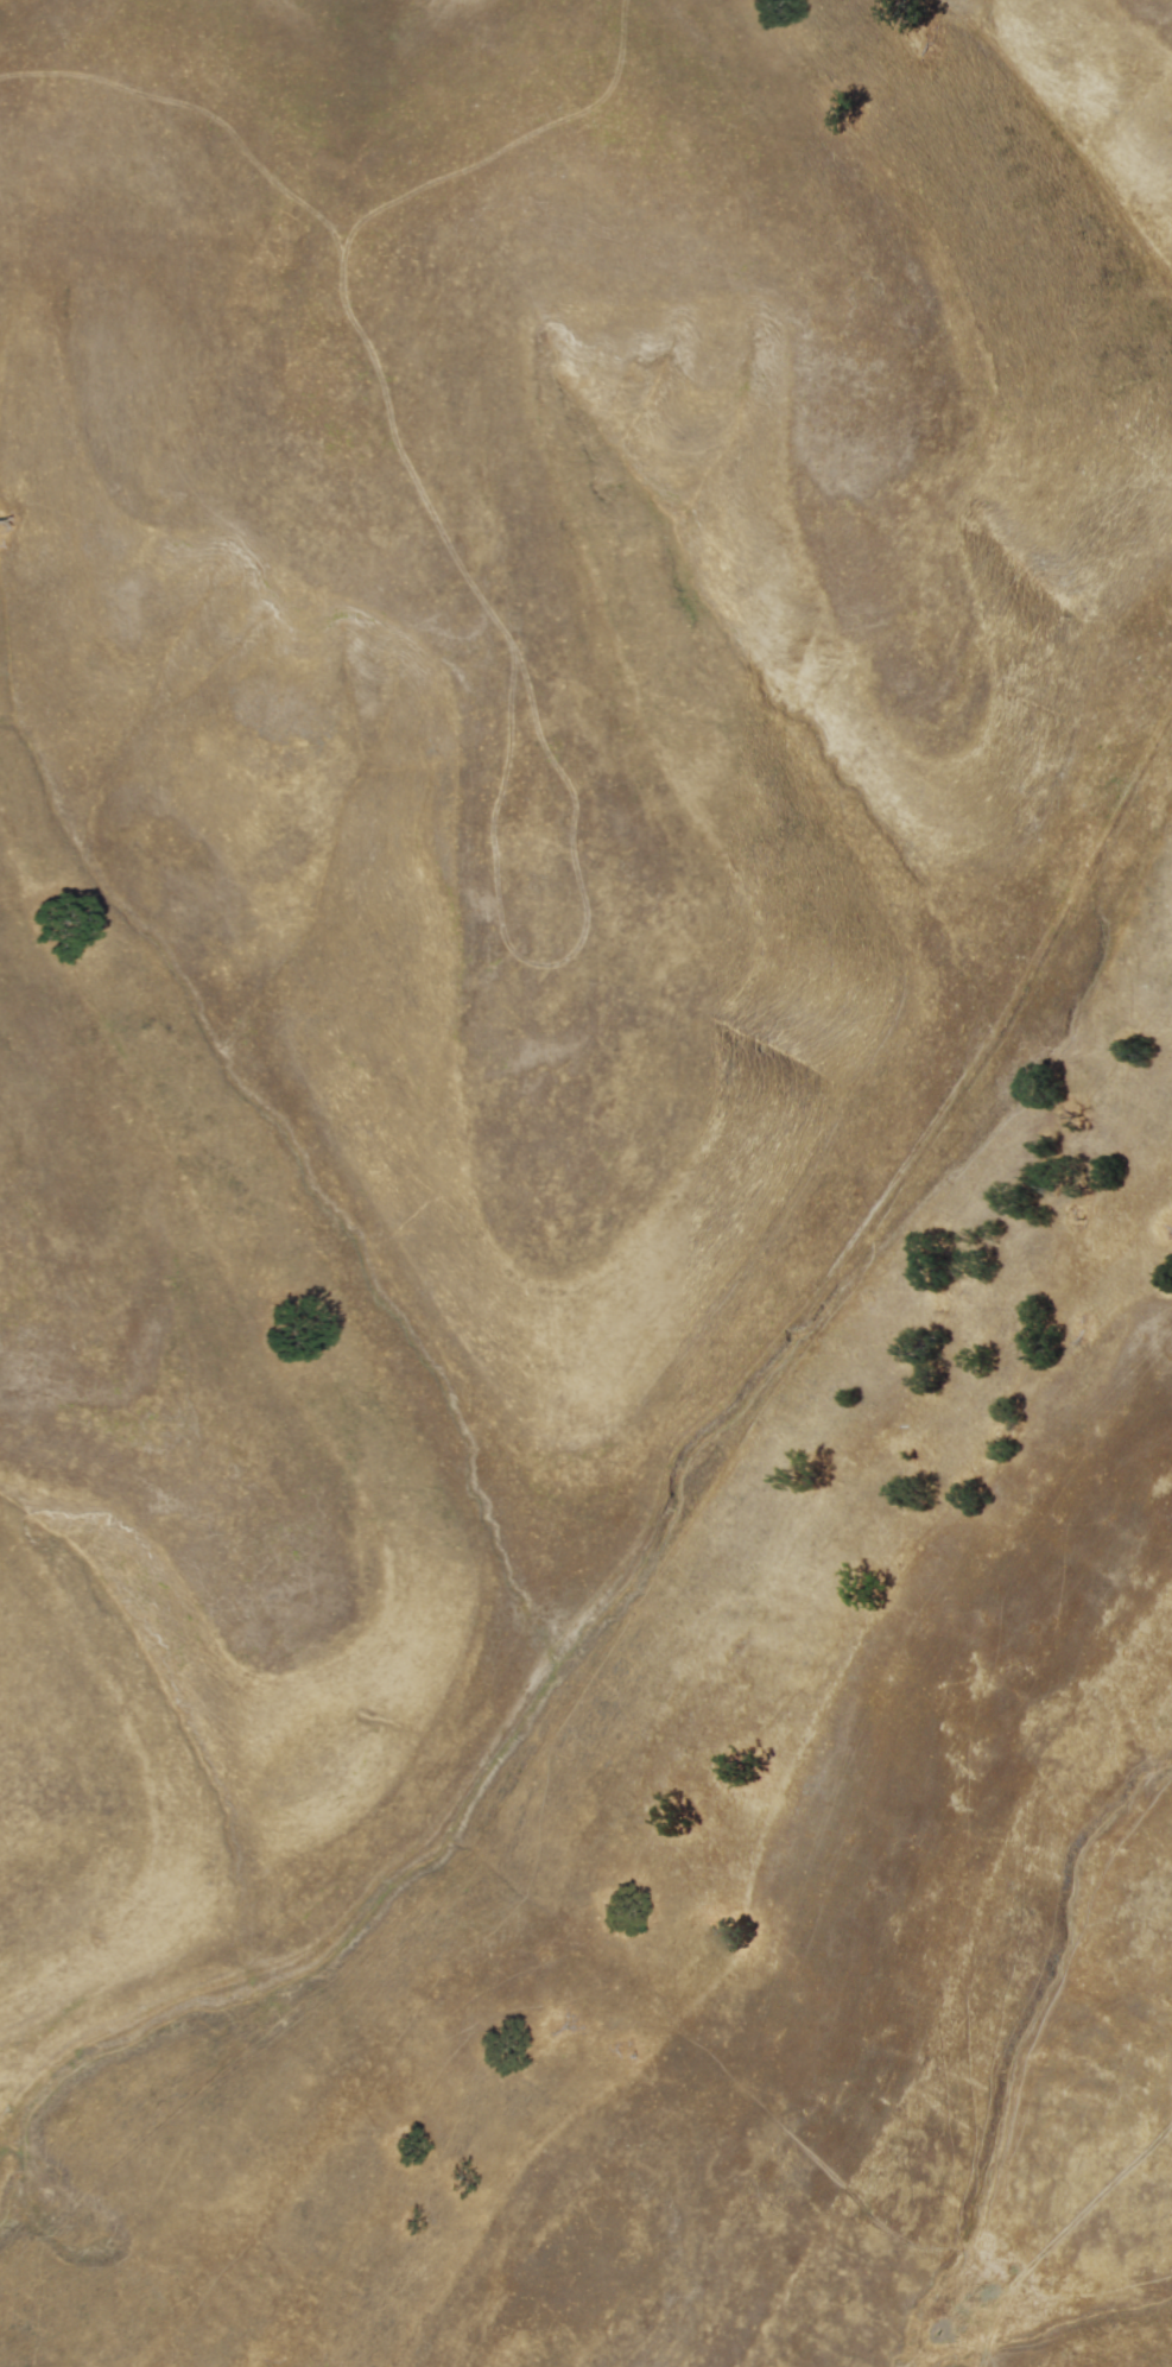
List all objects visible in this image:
road: (441, 1818)

